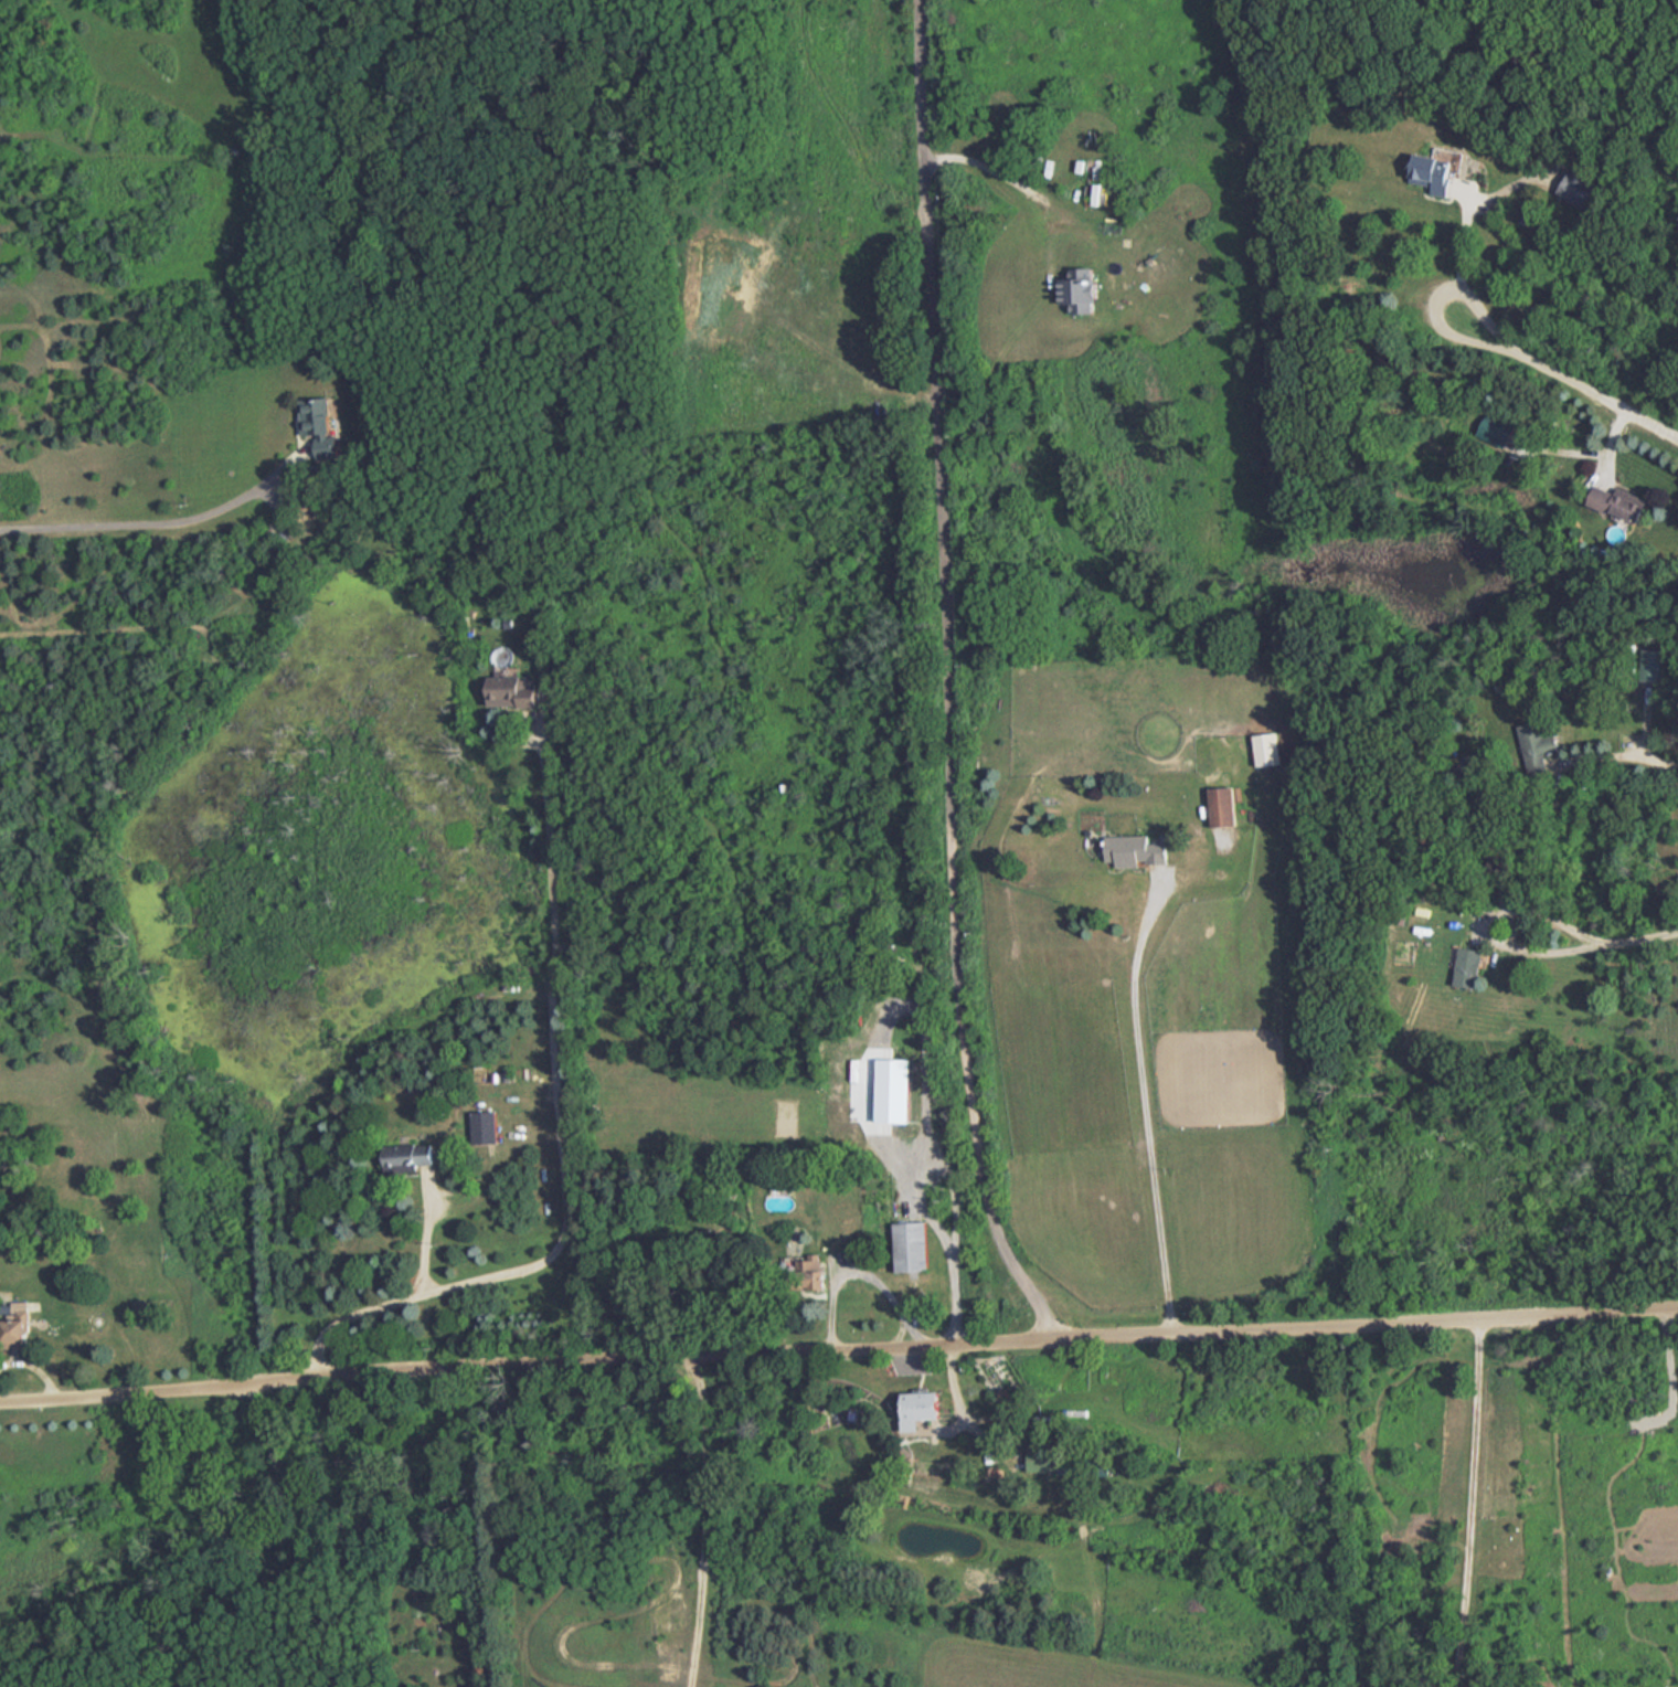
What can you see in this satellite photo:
building: (1432, 173)
road: (1015, 178)
building: (1576, 190)
road: (927, 217)
road: (1463, 252)
building: (1082, 288)
road: (1568, 374)
building: (317, 423)
building: (1495, 431)
building: (1618, 501)
road: (140, 524)
building: (1652, 664)
building: (514, 694)
building: (1538, 740)
building: (1268, 747)
road: (1626, 757)
building: (1223, 805)
building: (1129, 849)
road: (956, 894)
road: (1493, 924)
road: (1640, 938)
building: (1469, 966)
building: (895, 1091)
road: (1141, 1099)
building: (486, 1127)
road: (560, 1136)
building: (412, 1155)
road: (928, 1210)
road: (427, 1230)
building: (912, 1245)
road: (862, 1270)
building: (76, 1271)
building: (813, 1274)
building: (14, 1325)
road: (838, 1347)
road: (955, 1384)
building: (924, 1404)
building: (1048, 1422)
building: (1045, 1460)
road: (1473, 1502)
road: (704, 1520)
road: (284, 1535)

